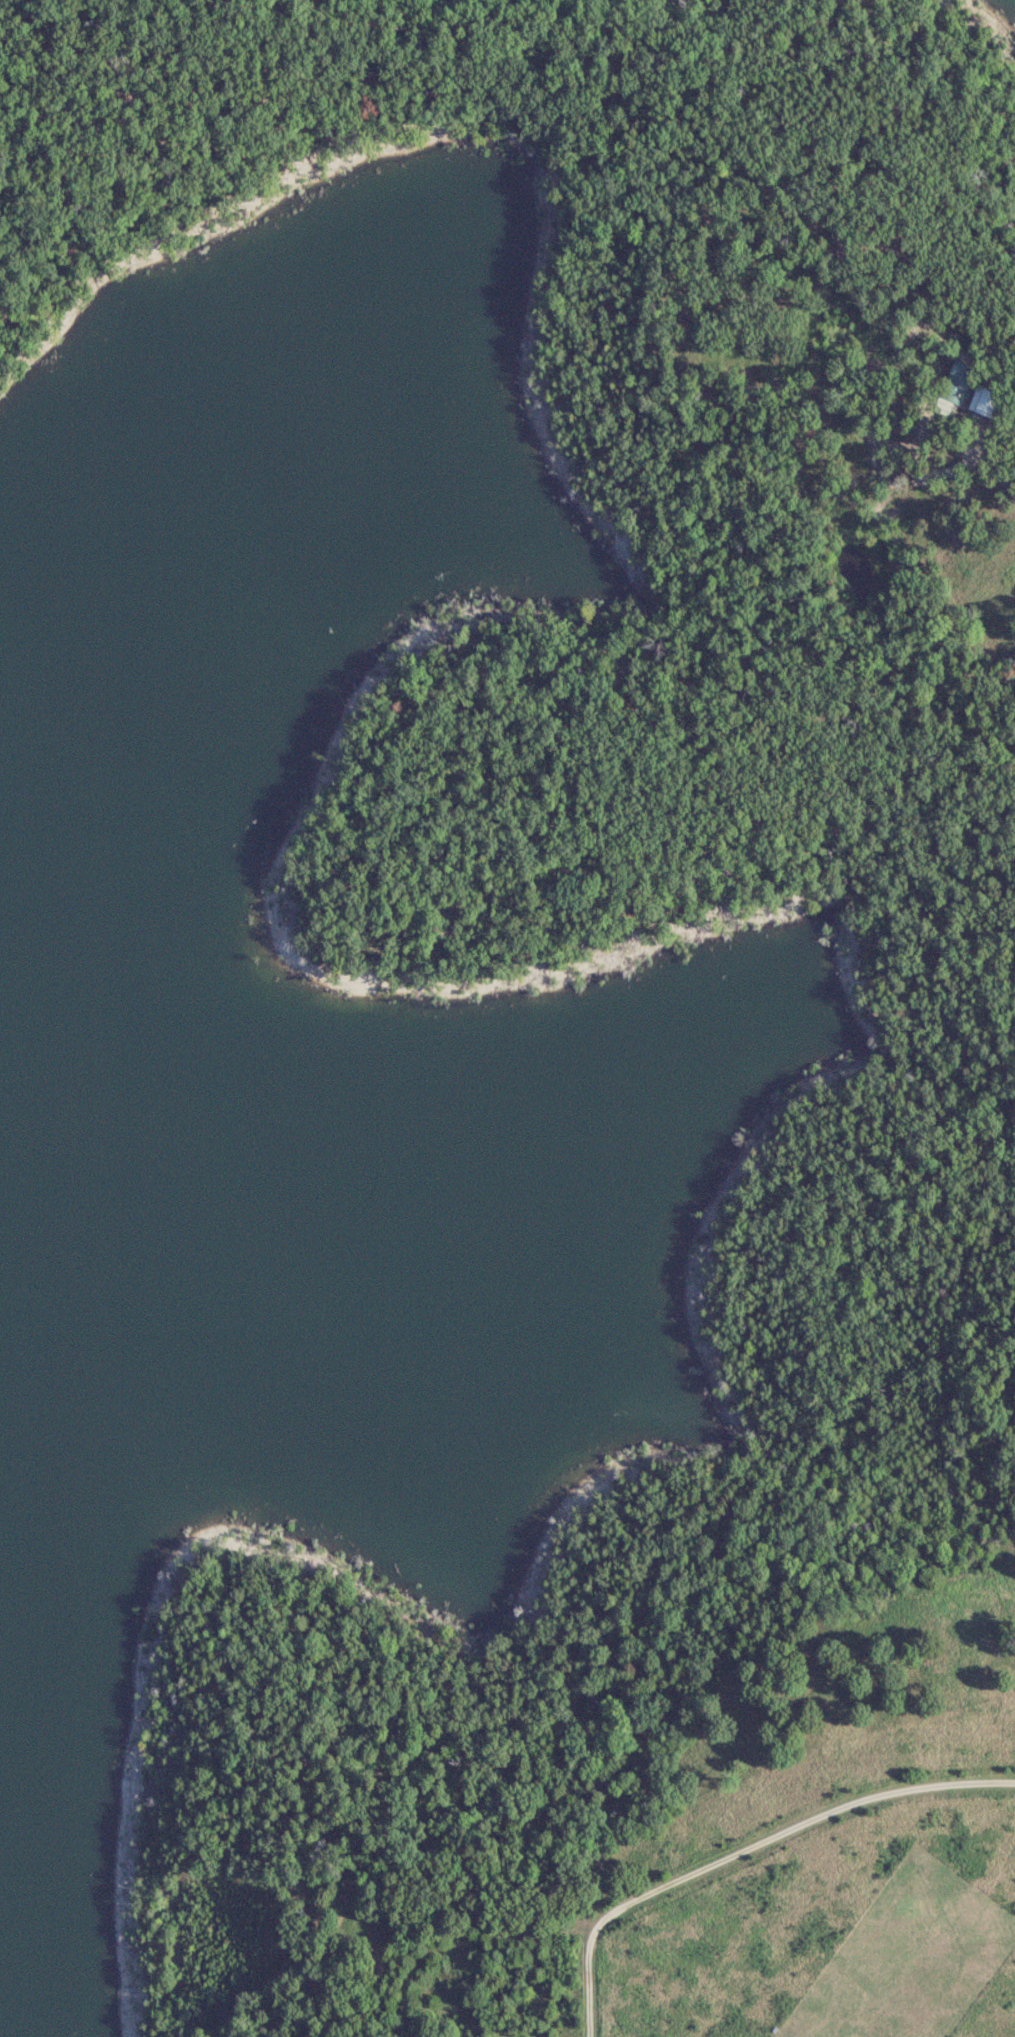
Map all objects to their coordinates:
road: (744, 1849)

